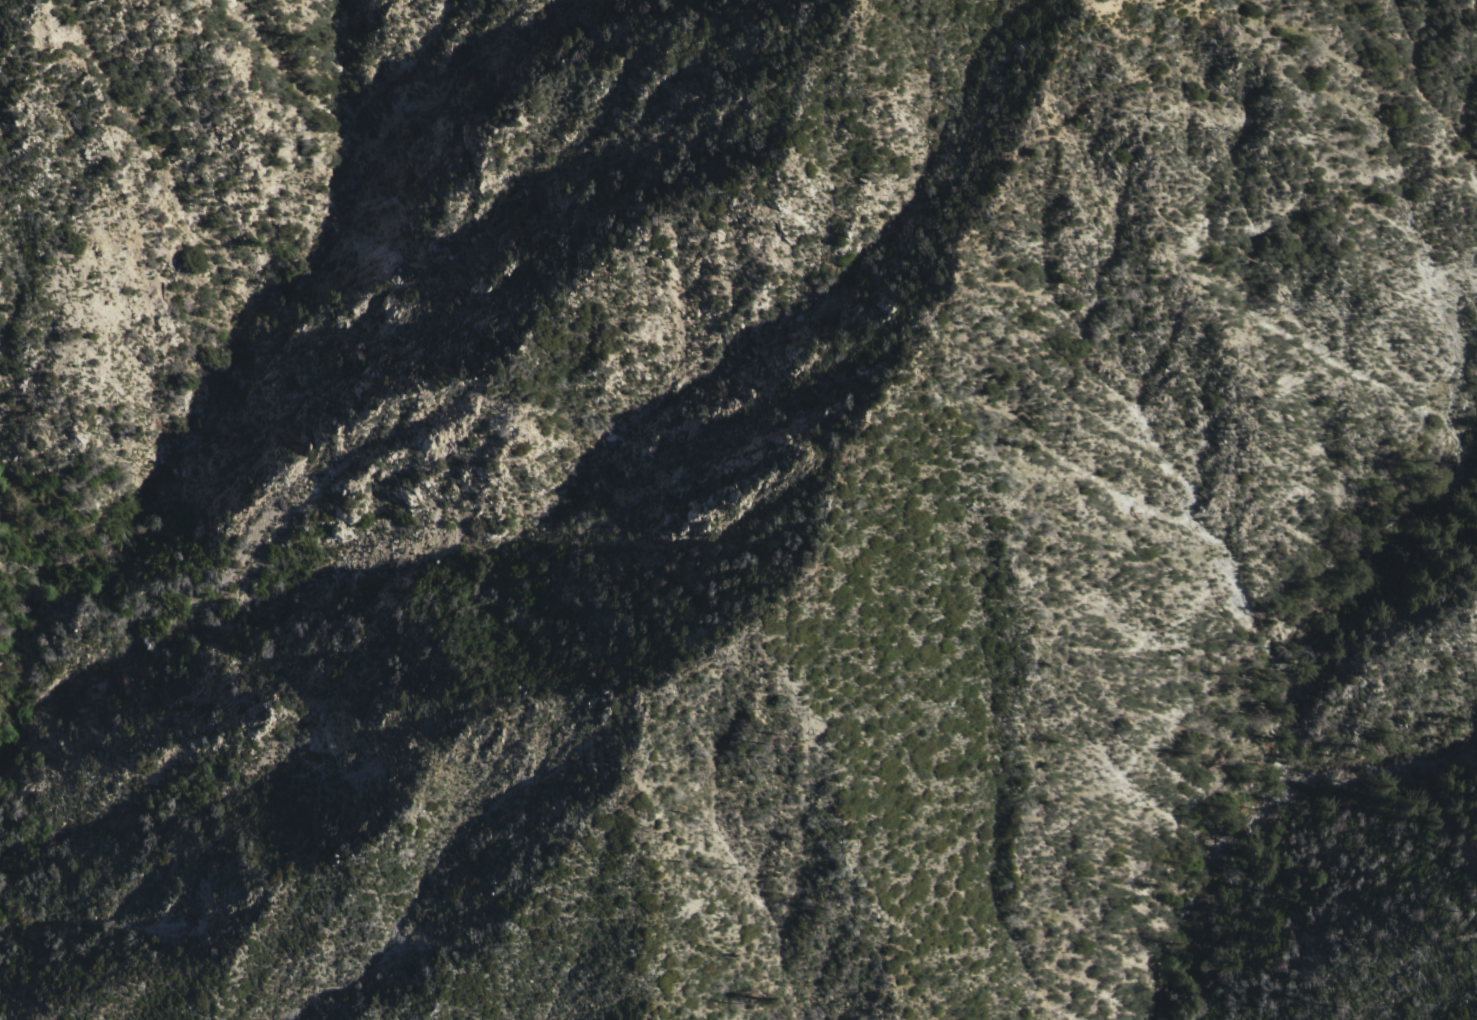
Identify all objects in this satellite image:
road: (1088, 2)

